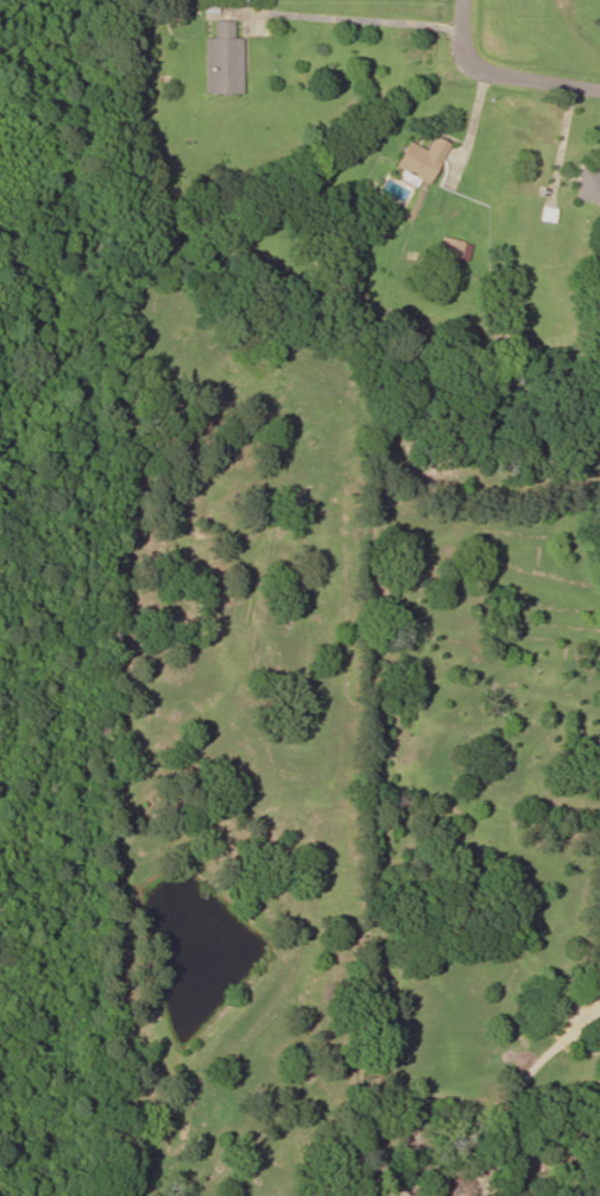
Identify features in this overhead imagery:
building: (222, 60)
road: (501, 75)
building: (422, 158)
building: (588, 184)
building: (451, 248)

